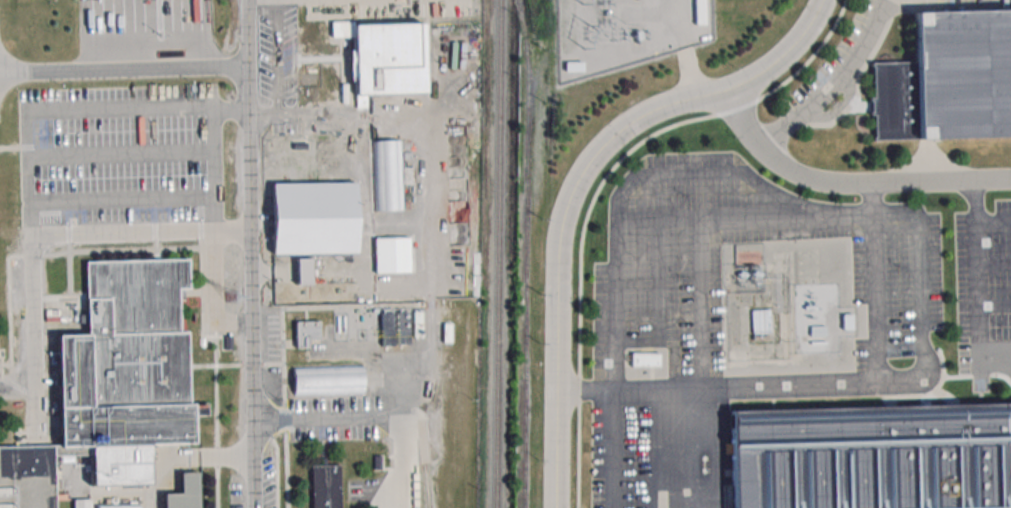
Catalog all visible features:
building: (699, 12)
road: (647, 13)
road: (570, 25)
road: (677, 25)
power substation: (626, 32)
road: (277, 57)
building: (384, 57)
building: (573, 65)
road: (125, 69)
road: (691, 73)
building: (949, 79)
road: (831, 80)
road: (118, 108)
road: (231, 110)
road: (308, 113)
building: (324, 153)
road: (121, 155)
parking lot: (120, 156)
building: (387, 175)
road: (848, 182)
road: (577, 186)
road: (600, 188)
road: (872, 199)
road: (122, 200)
road: (976, 202)
road: (893, 214)
building: (313, 217)
road: (745, 217)
road: (66, 234)
road: (617, 249)
road: (252, 253)
railway: (498, 253)
railway: (527, 253)
building: (391, 254)
road: (994, 262)
building: (303, 270)
road: (977, 286)
parking lot: (984, 292)
road: (216, 294)
power tower: (232, 297)
road: (661, 302)
road: (700, 302)
road: (994, 307)
building: (760, 321)
power substation: (784, 321)
building: (399, 325)
building: (447, 328)
building: (305, 332)
building: (644, 359)
road: (1006, 361)
building: (327, 379)
building: (113, 384)
road: (739, 384)
road: (18, 386)
road: (617, 388)
road: (36, 411)
road: (374, 416)
building: (874, 455)
building: (324, 486)
railway: (428, 486)
building: (181, 493)
building: (82, 503)
railway: (583, 507)

